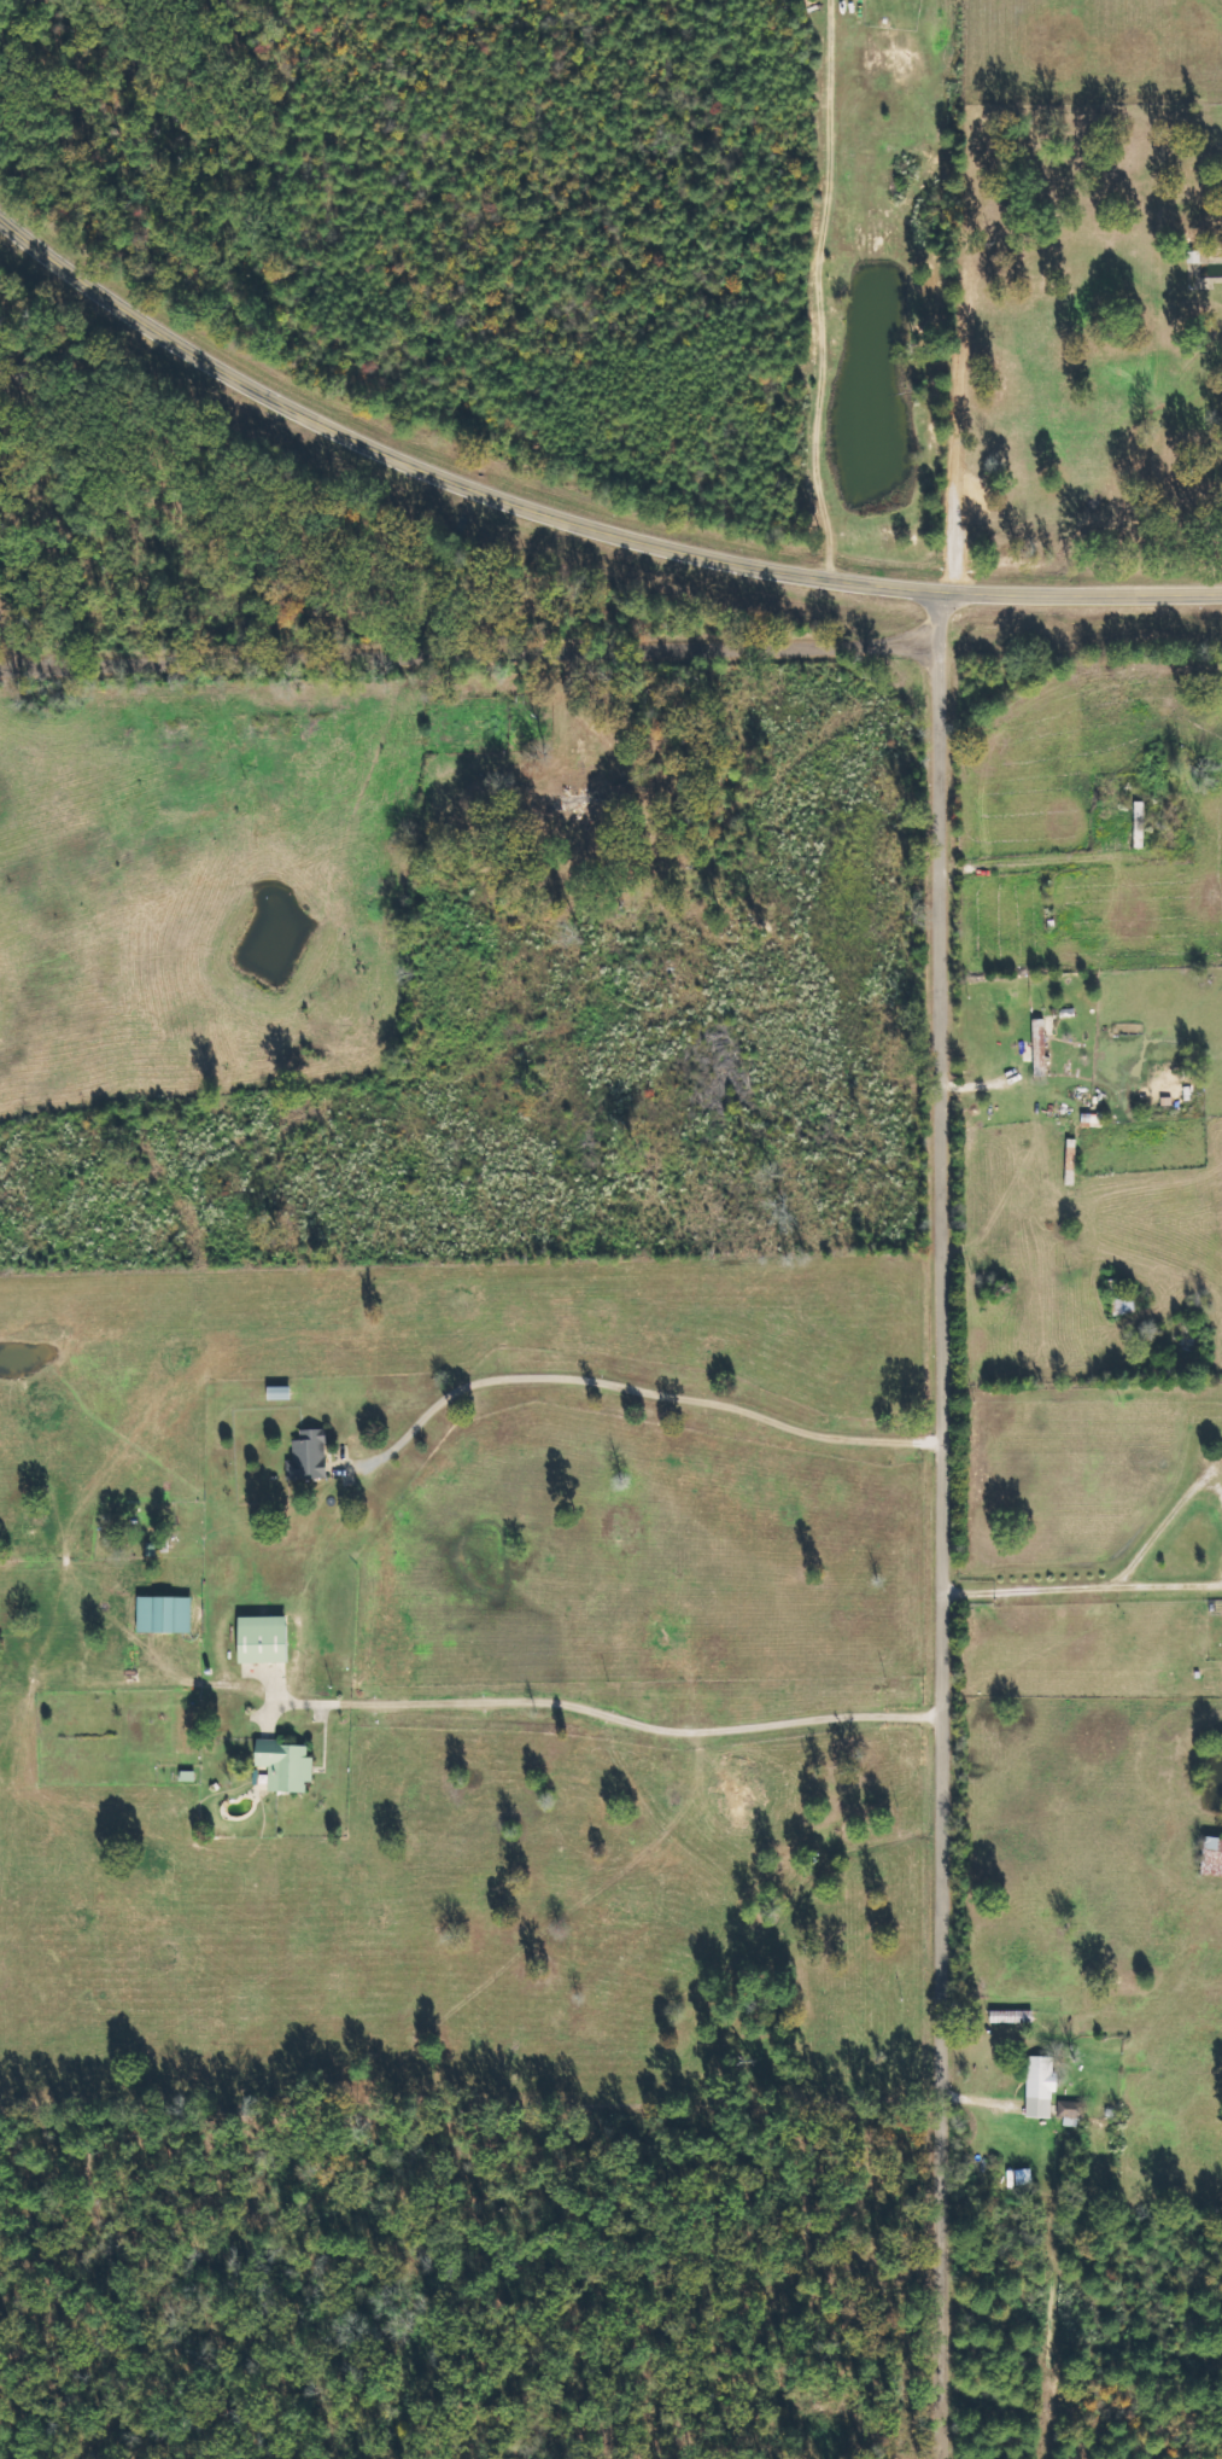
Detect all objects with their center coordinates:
road: (574, 523)
road: (12, 642)
road: (474, 659)
building: (1037, 1045)
building: (311, 1455)
road: (952, 1525)
building: (168, 1614)
building: (268, 1638)
building: (290, 1765)
building: (1210, 1854)
building: (1039, 2085)
building: (1070, 2108)

